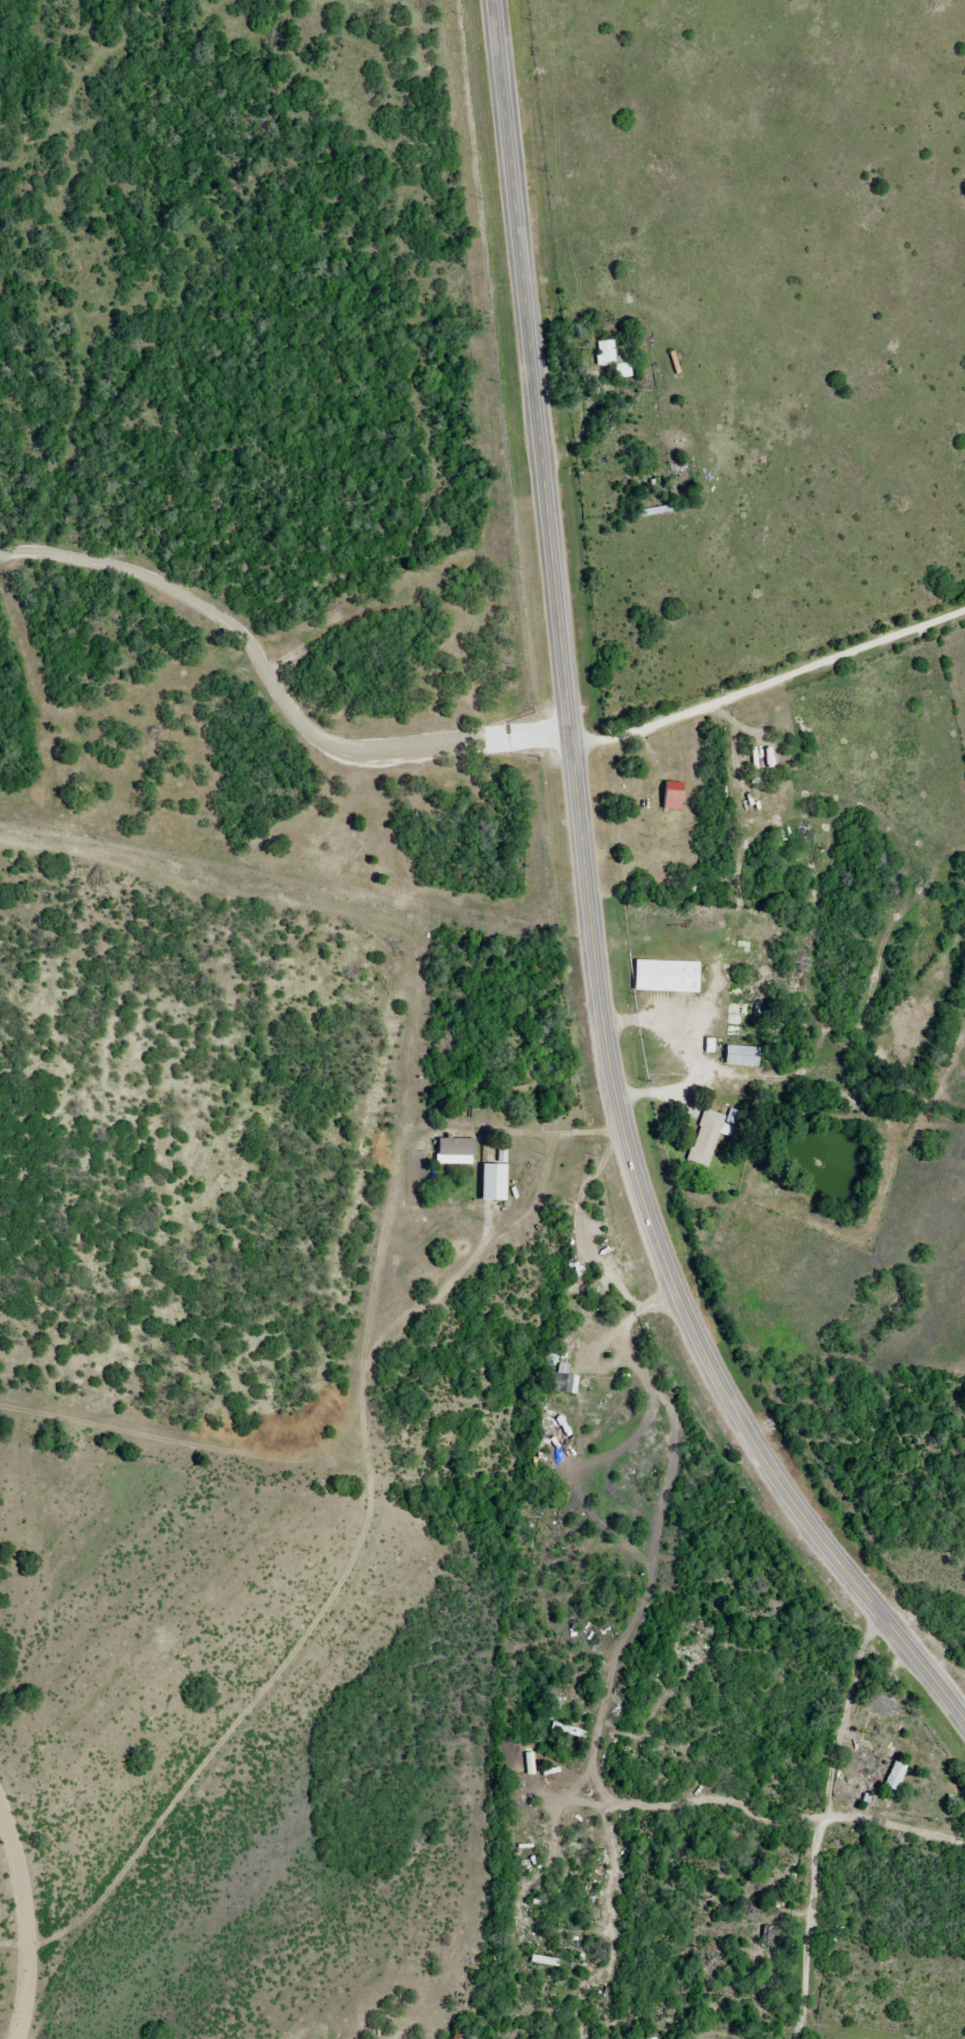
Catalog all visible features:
road: (769, 651)
road: (578, 836)
building: (495, 1187)
road: (917, 1669)
road: (893, 1818)
road: (827, 1822)

